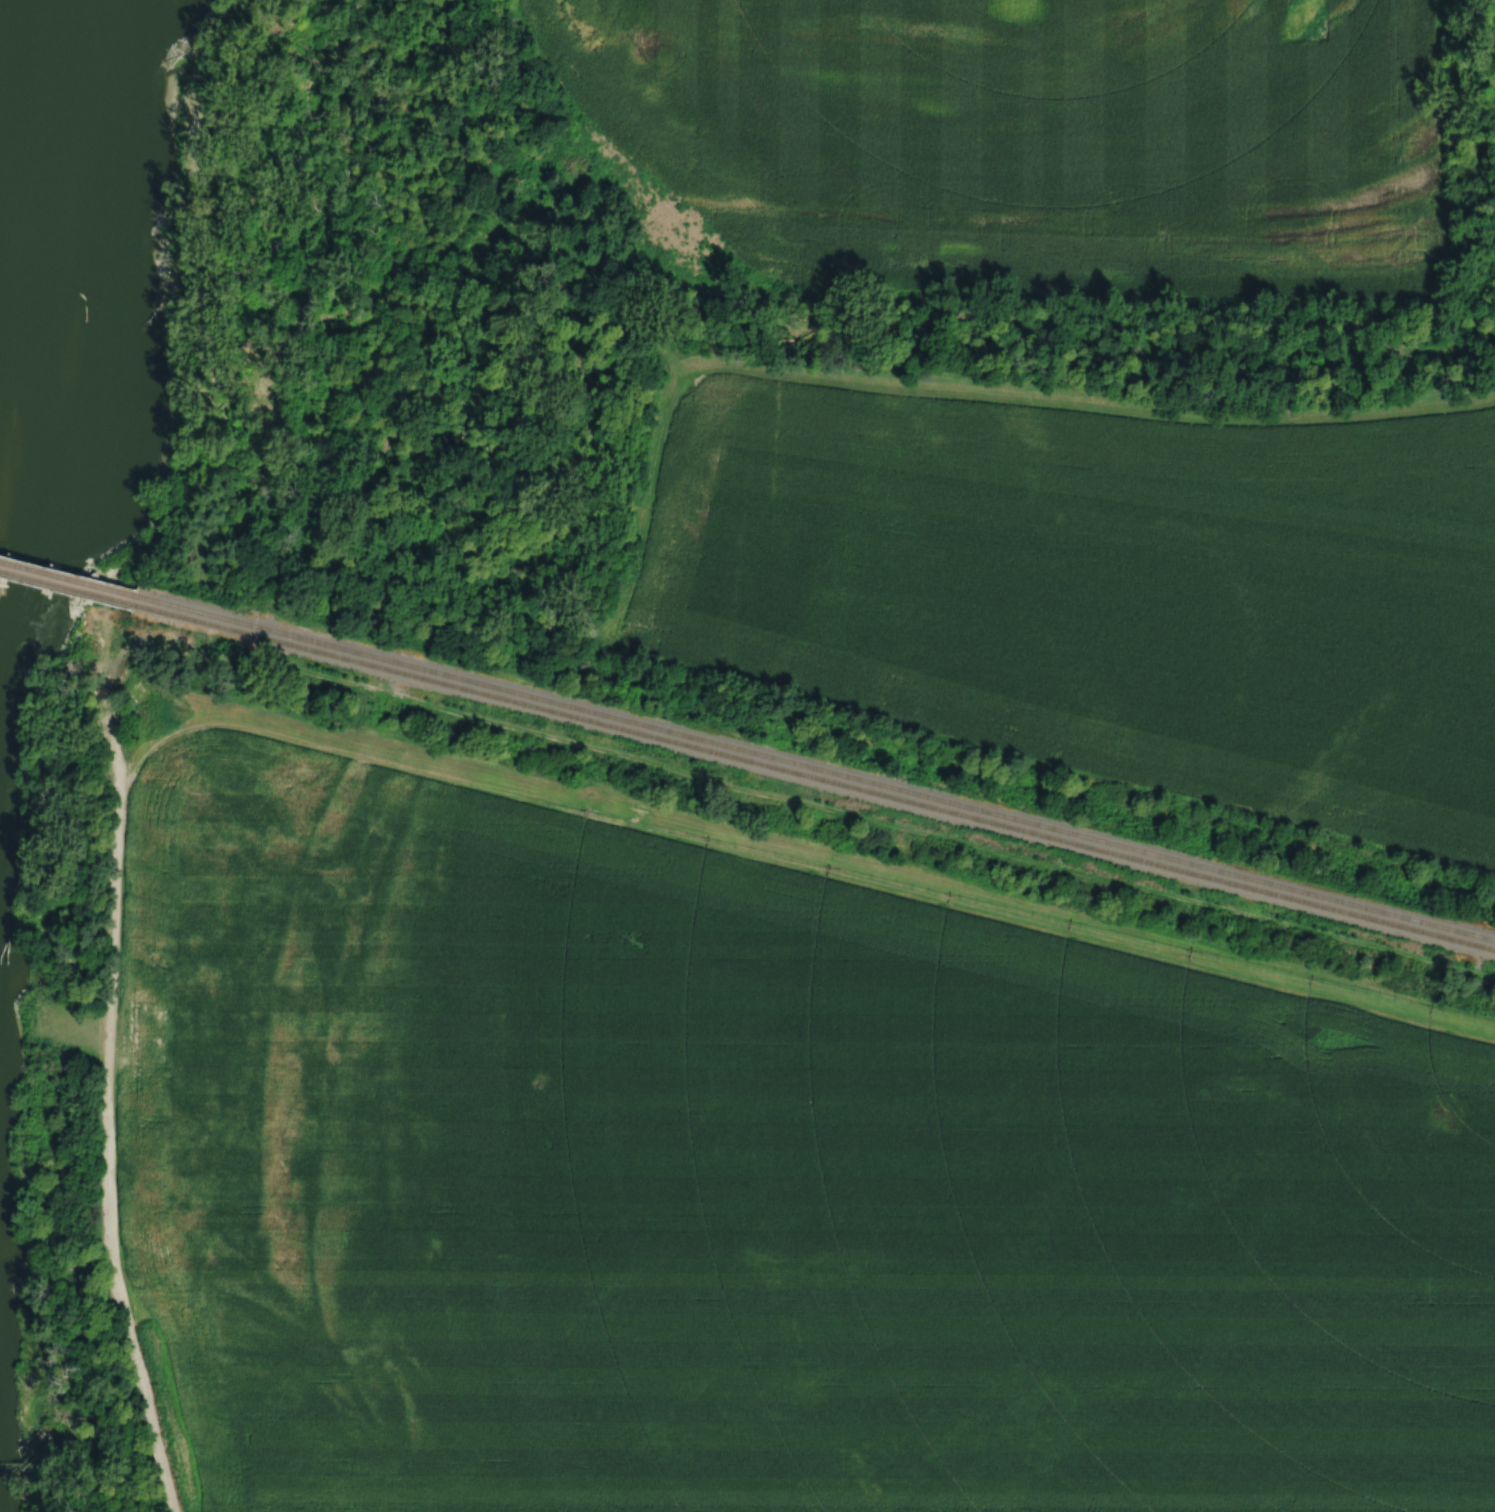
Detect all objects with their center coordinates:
river: (65, 280)
railway: (68, 576)
railway: (67, 585)
railway: (815, 767)
railway: (814, 776)

